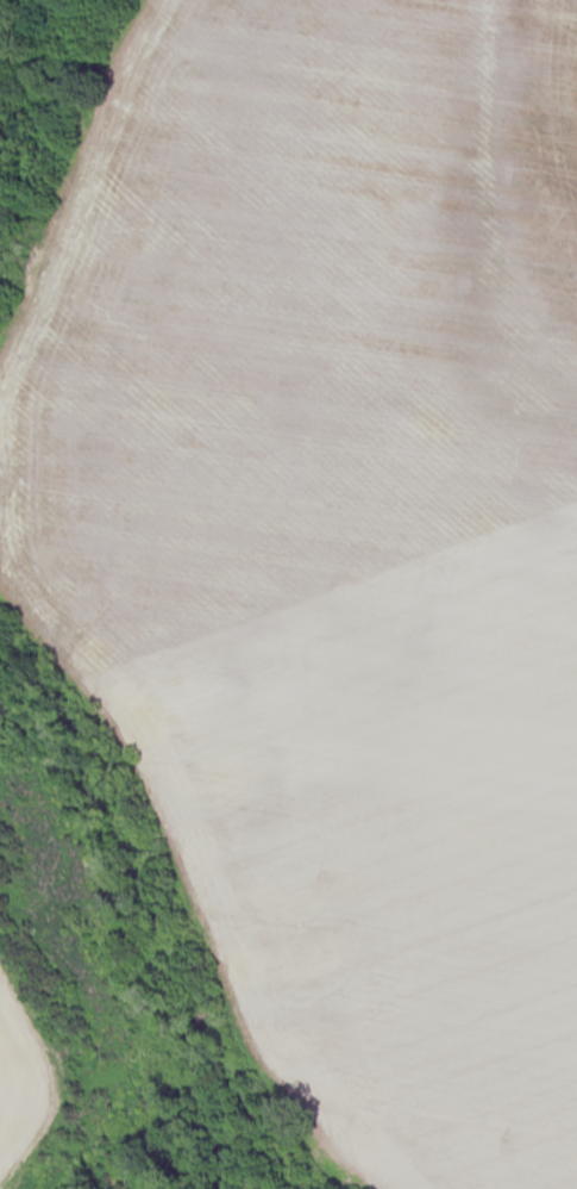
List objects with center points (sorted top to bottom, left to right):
park: (40, 76)

